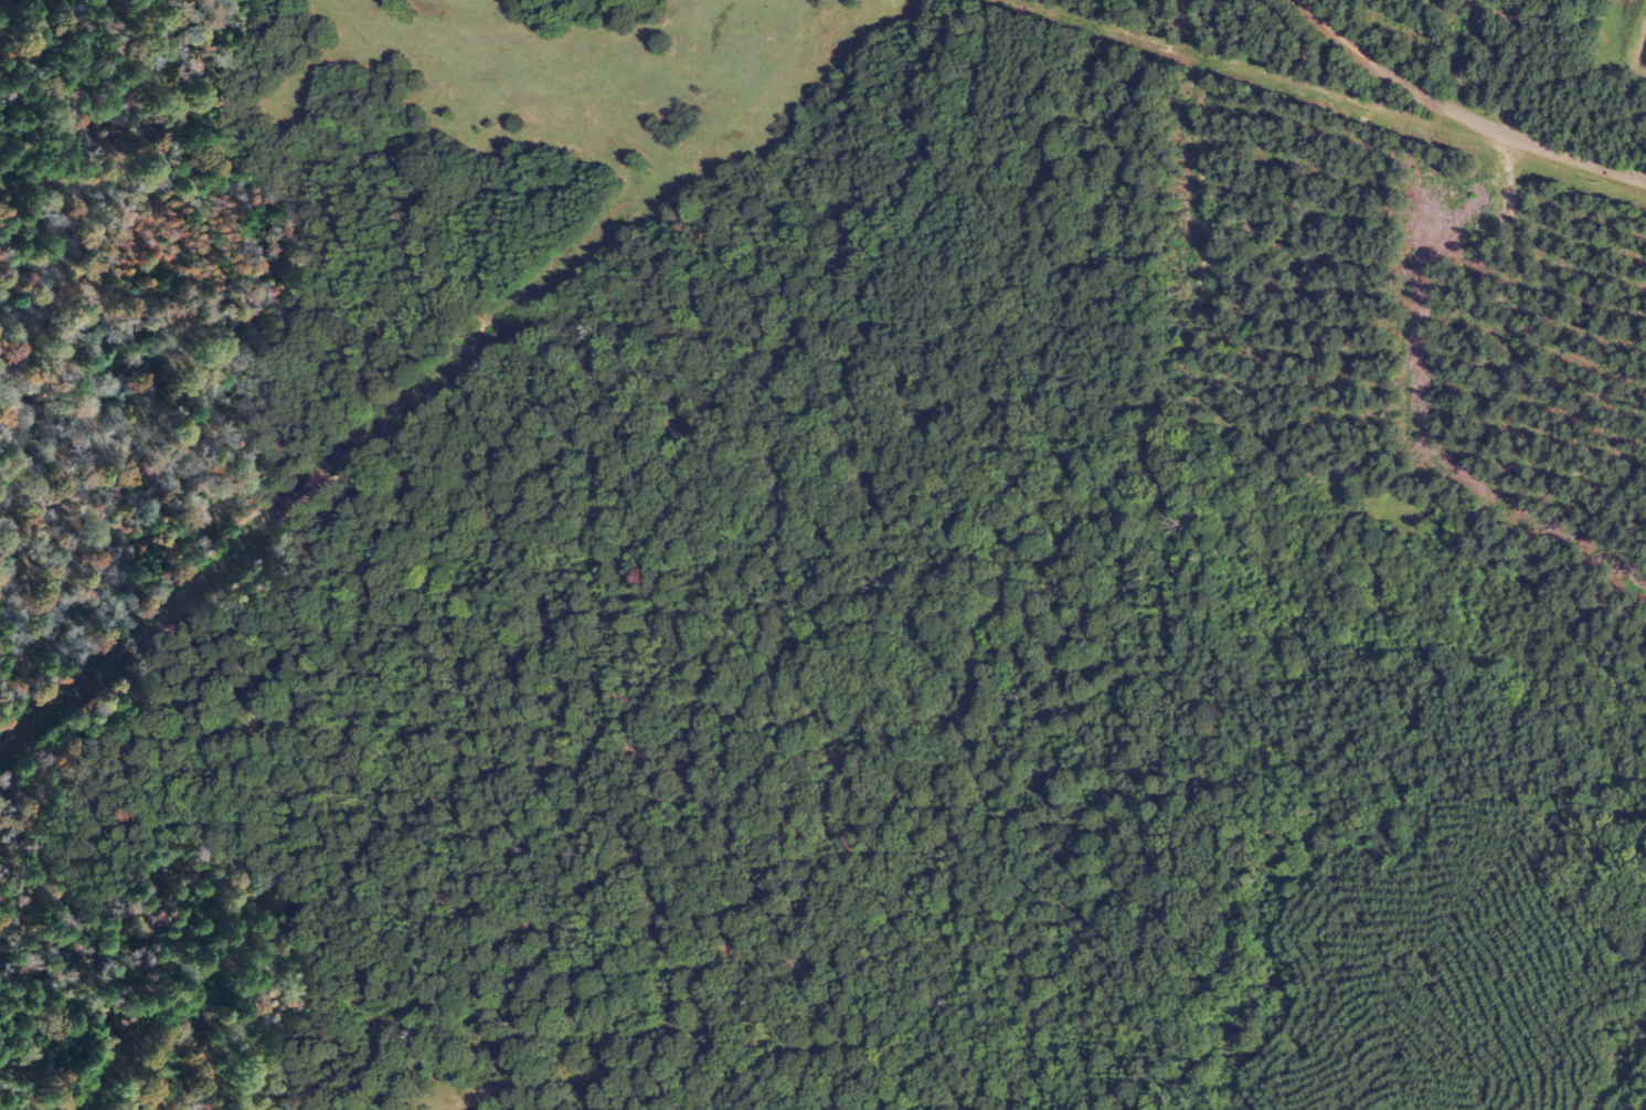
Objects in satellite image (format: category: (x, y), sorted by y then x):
road: (1466, 124)

